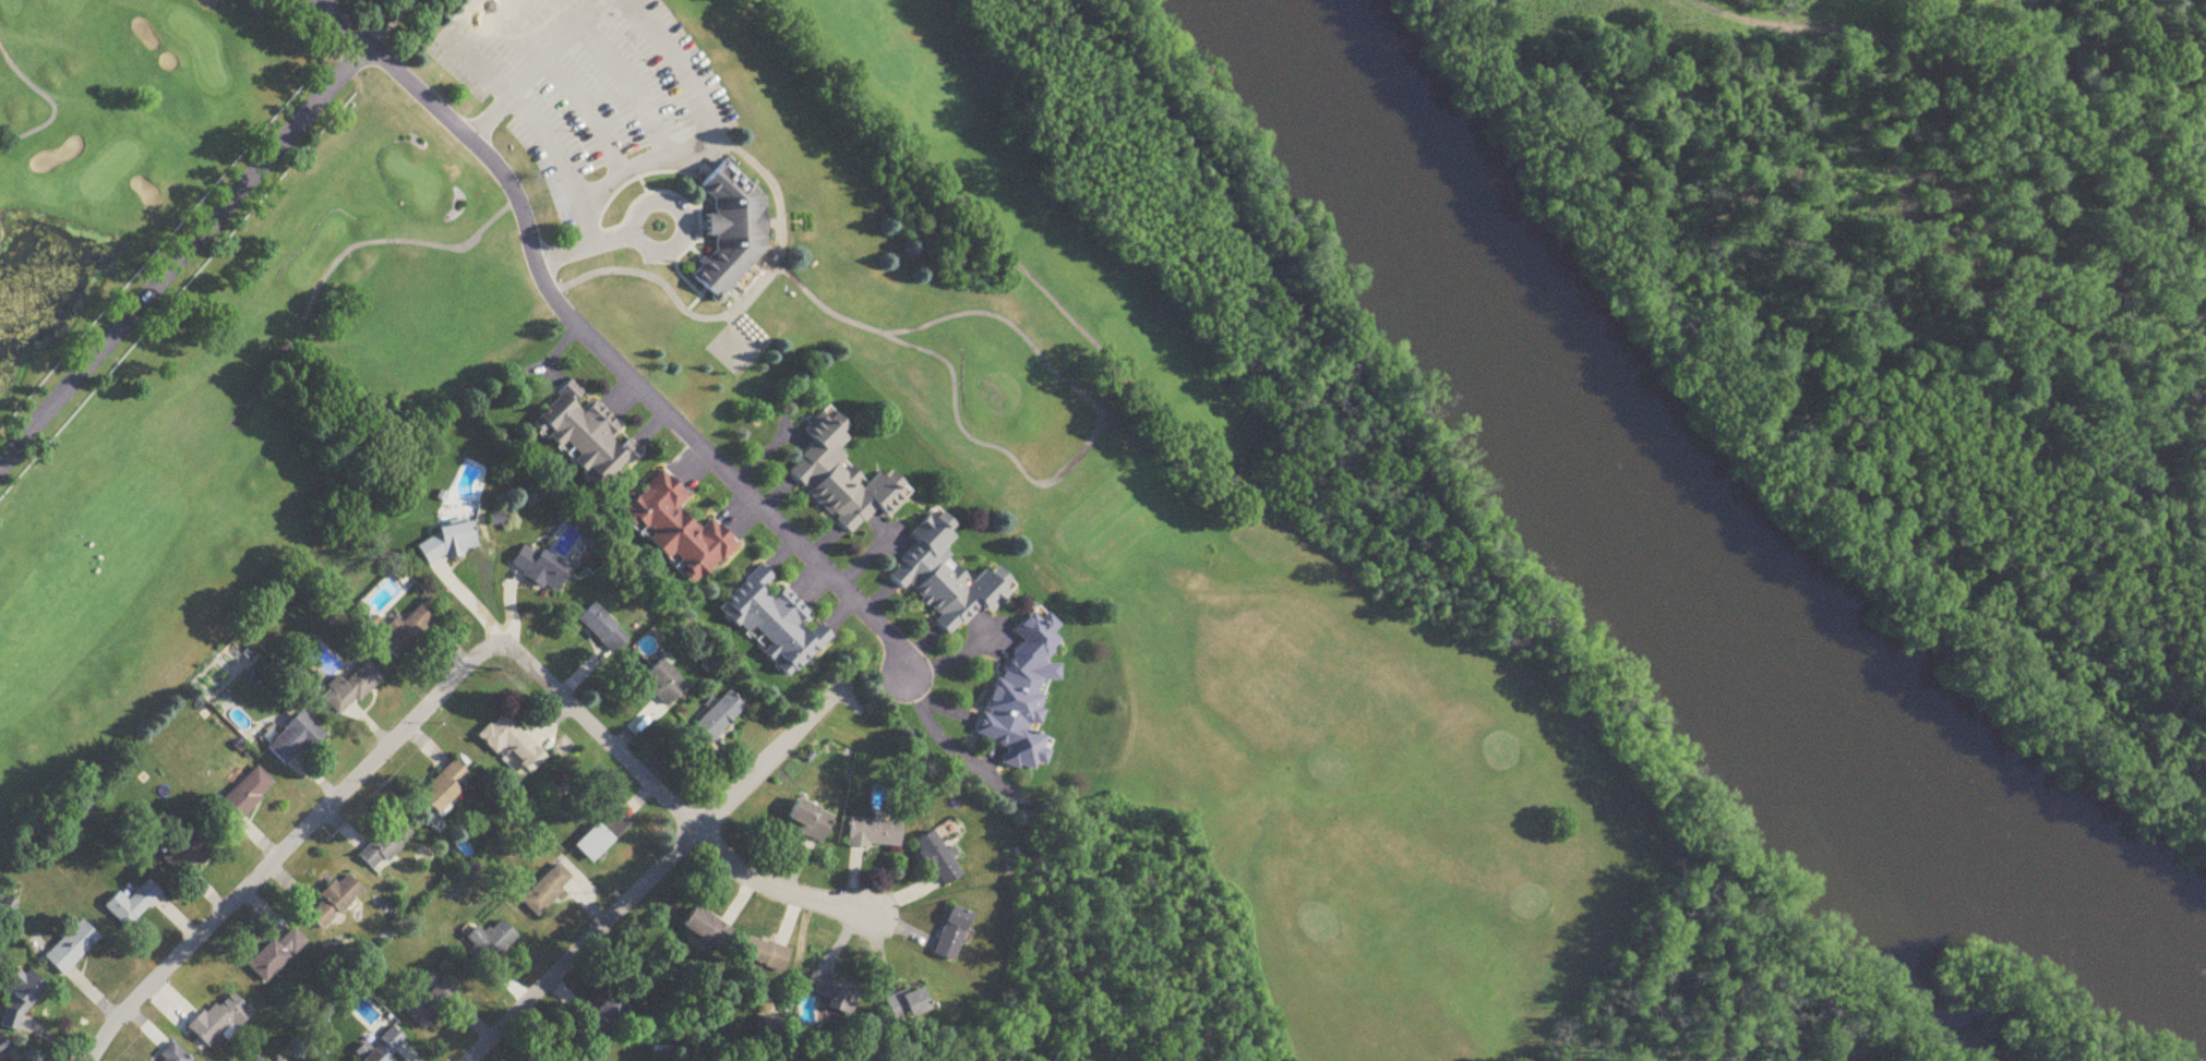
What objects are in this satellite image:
road: (560, 13)
road: (337, 24)
road: (387, 25)
road: (535, 69)
parking lot: (594, 79)
road: (627, 86)
road: (508, 95)
road: (586, 116)
road: (674, 155)
building: (731, 232)
road: (620, 236)
road: (180, 254)
road: (744, 300)
road: (618, 371)
building: (586, 435)
building: (842, 478)
park: (1244, 521)
building: (679, 530)
building: (446, 544)
river: (1670, 552)
building: (540, 569)
building: (946, 576)
building: (774, 623)
building: (602, 629)
building: (407, 631)
road: (949, 654)
building: (664, 683)
building: (349, 689)
building: (1022, 694)
building: (717, 719)
building: (295, 739)
building: (511, 743)
road: (943, 752)
building: (445, 787)
building: (243, 797)
road: (674, 805)
building: (810, 819)
building: (601, 833)
building: (873, 834)
road: (288, 843)
building: (386, 845)
building: (190, 849)
building: (937, 859)
road: (655, 869)
building: (545, 891)
building: (334, 902)
building: (133, 905)
building: (706, 929)
building: (952, 935)
building: (489, 944)
building: (72, 949)
building: (277, 954)
building: (763, 955)
building: (831, 994)
building: (22, 998)
building: (428, 1004)
building: (908, 1006)
building: (604, 1018)
building: (218, 1022)
building: (770, 1034)
building: (380, 1048)
building: (4, 1049)
building: (172, 1054)

